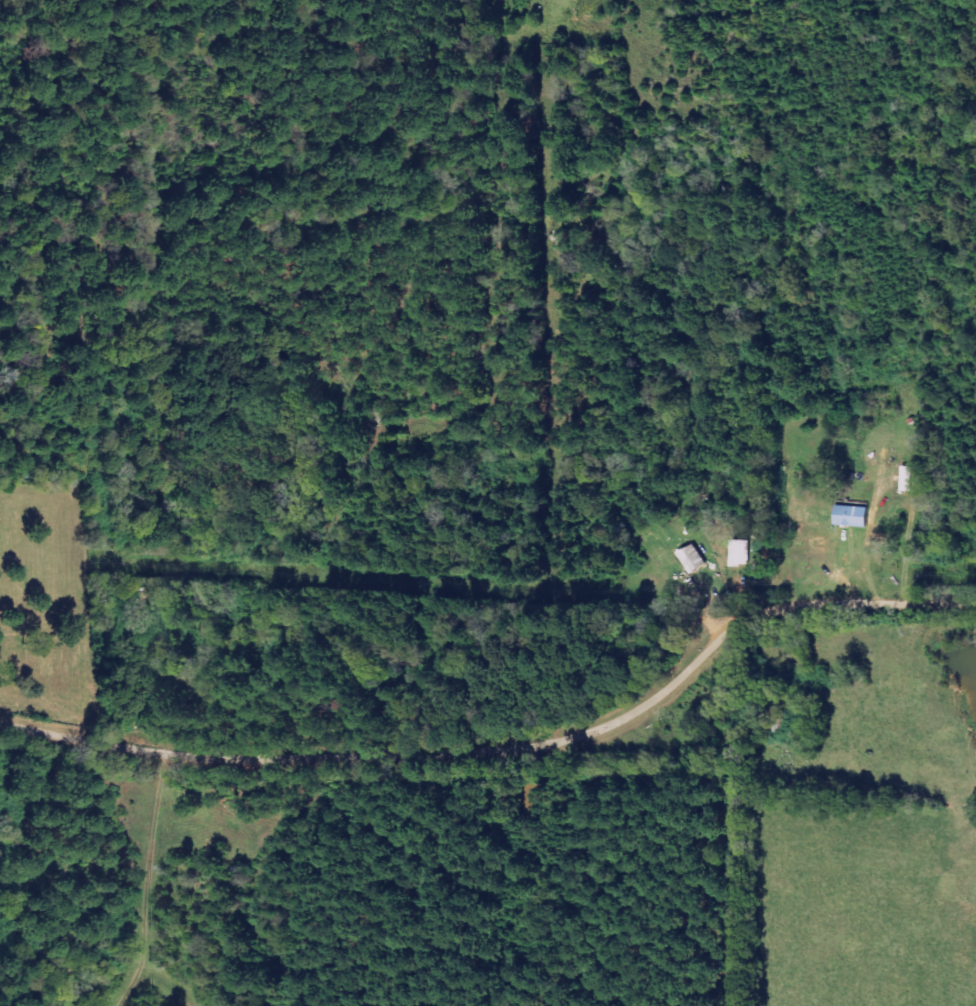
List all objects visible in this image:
building: (906, 479)
building: (850, 516)
building: (888, 541)
building: (739, 553)
building: (691, 559)
road: (514, 769)

